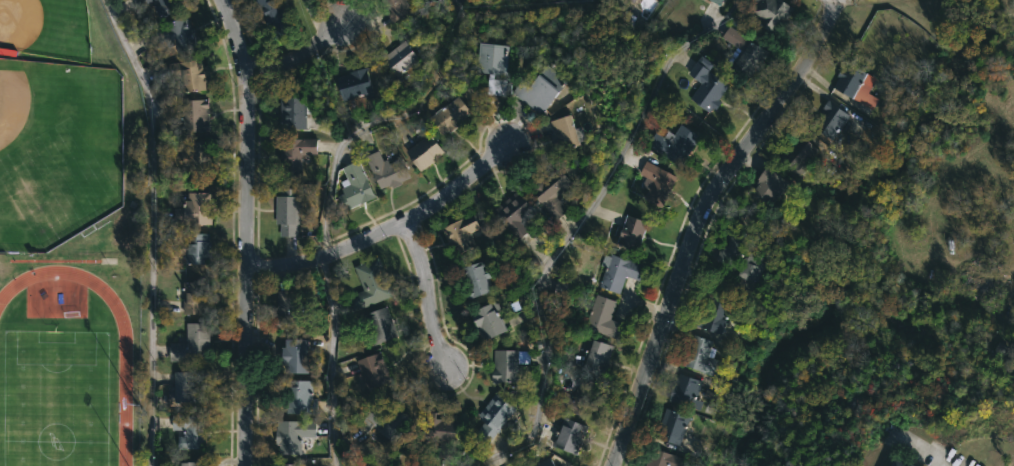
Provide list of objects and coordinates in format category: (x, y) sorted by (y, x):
building: (148, 1)
building: (630, 1)
building: (716, 2)
building: (167, 3)
building: (395, 8)
park: (982, 10)
building: (270, 14)
building: (770, 14)
road: (824, 16)
road: (317, 21)
building: (184, 34)
building: (734, 38)
building: (399, 58)
building: (747, 59)
road: (300, 62)
building: (494, 68)
building: (186, 76)
building: (706, 84)
building: (856, 84)
building: (354, 85)
building: (540, 90)
building: (907, 97)
building: (292, 114)
building: (449, 115)
building: (194, 116)
building: (829, 121)
road: (380, 123)
building: (564, 135)
building: (674, 145)
park: (51, 152)
building: (423, 152)
building: (799, 153)
building: (295, 156)
building: (194, 158)
building: (386, 171)
building: (656, 184)
building: (768, 184)
building: (355, 186)
building: (551, 192)
building: (194, 209)
building: (287, 212)
building: (516, 219)
road: (149, 229)
road: (388, 230)
road: (571, 230)
road: (246, 231)
building: (461, 233)
building: (631, 233)
road: (693, 238)
building: (197, 247)
building: (731, 248)
building: (751, 268)
building: (618, 271)
building: (475, 278)
building: (370, 283)
building: (559, 289)
road: (425, 295)
building: (194, 296)
building: (291, 311)
building: (712, 314)
building: (602, 316)
building: (489, 319)
building: (380, 324)
building: (191, 343)
building: (998, 350)
building: (295, 354)
building: (595, 354)
building: (702, 356)
park: (68, 361)
road: (329, 361)
building: (506, 364)
building: (372, 370)
building: (185, 386)
building: (686, 391)
park: (52, 397)
building: (579, 397)
building: (299, 398)
building: (494, 415)
building: (385, 421)
building: (672, 426)
building: (188, 430)
building: (440, 433)
building: (289, 434)
building: (569, 434)
road: (925, 455)
building: (662, 458)
building: (544, 462)
building: (898, 463)
building: (188, 464)
building: (288, 464)

